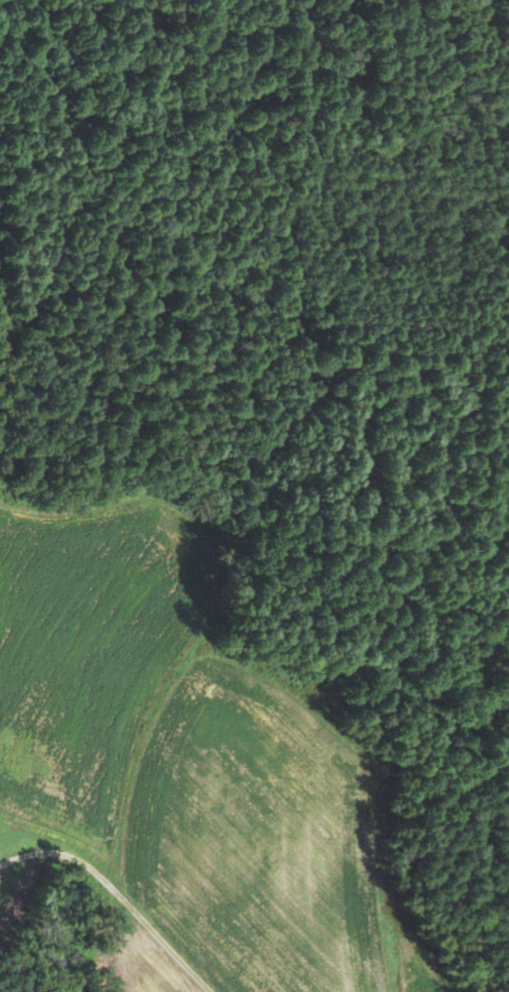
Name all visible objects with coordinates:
road: (115, 896)

